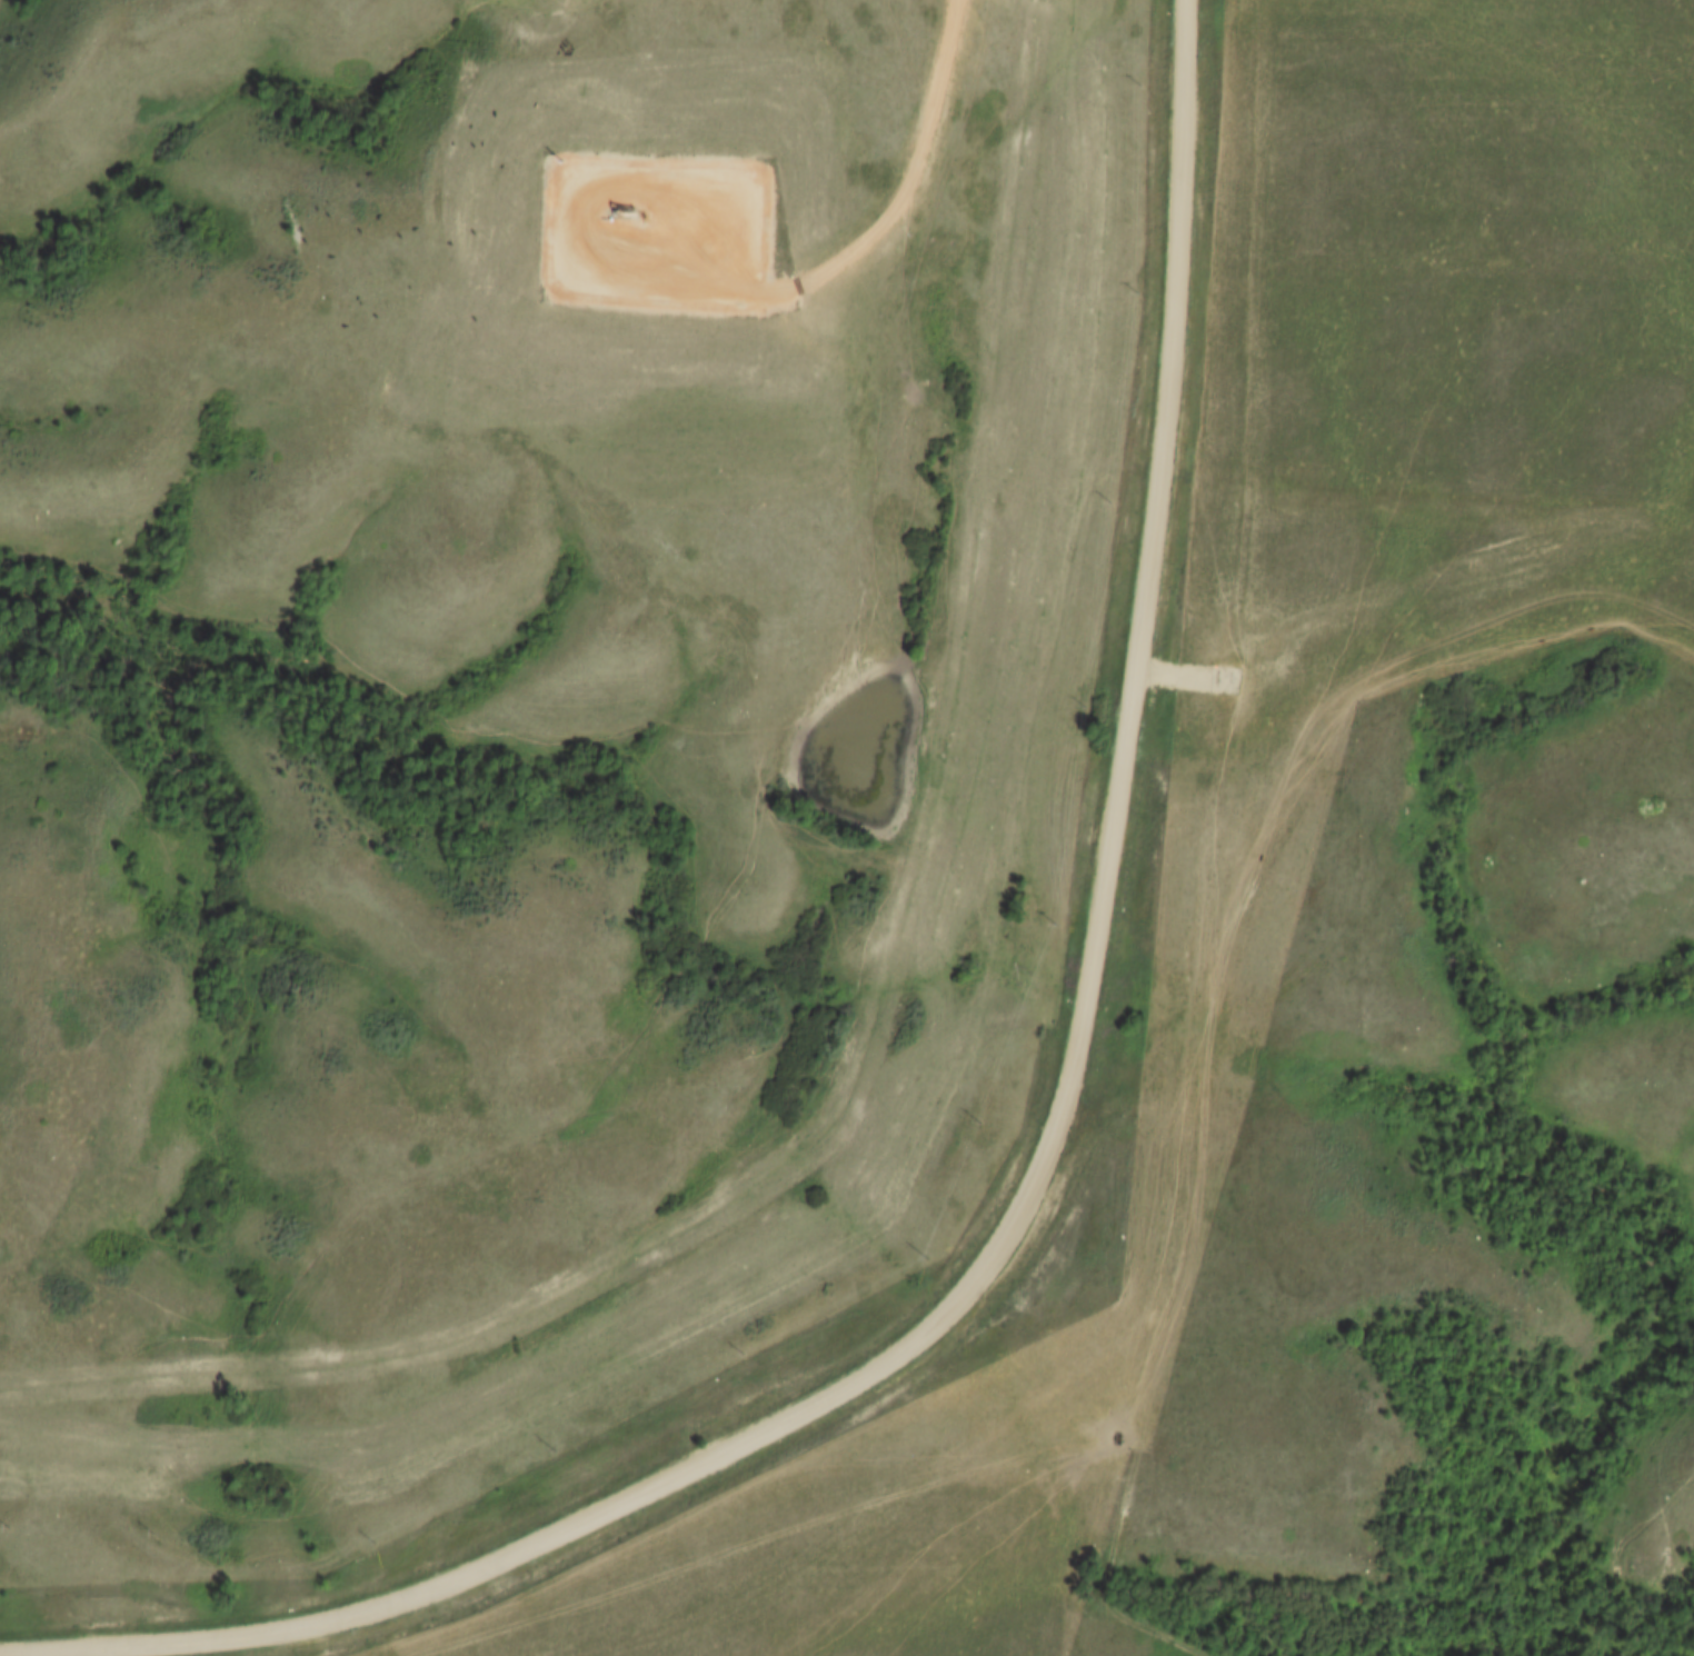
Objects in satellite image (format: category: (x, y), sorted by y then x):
road: (1043, 1180)

